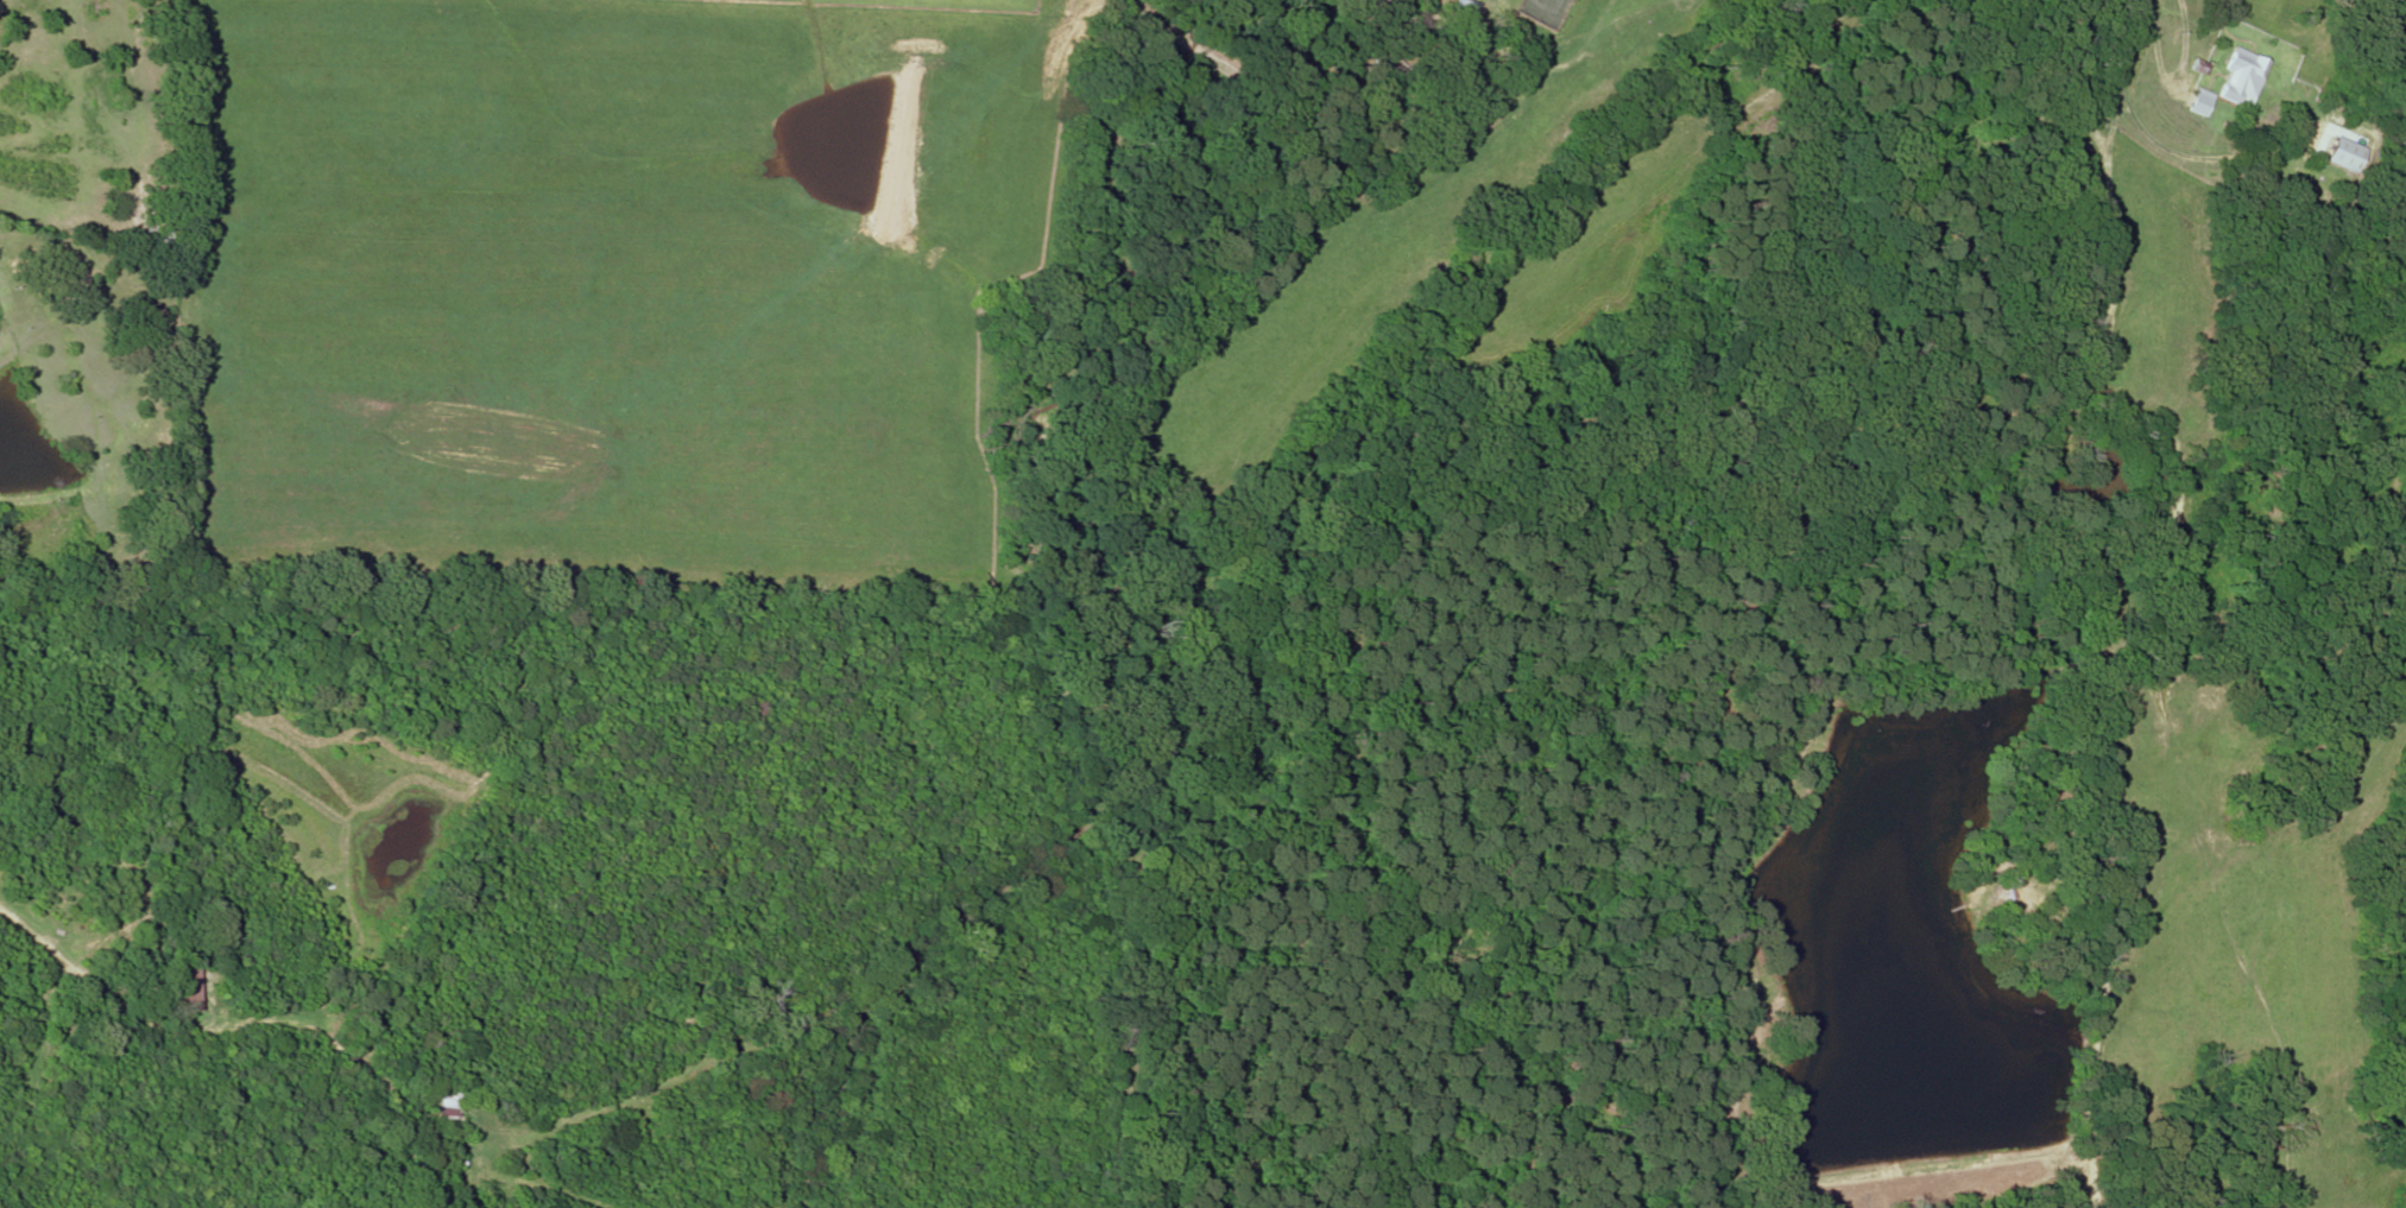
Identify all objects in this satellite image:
building: (2238, 61)
building: (2198, 90)
building: (151, 236)
road: (1881, 491)
road: (2116, 799)
building: (453, 1103)

